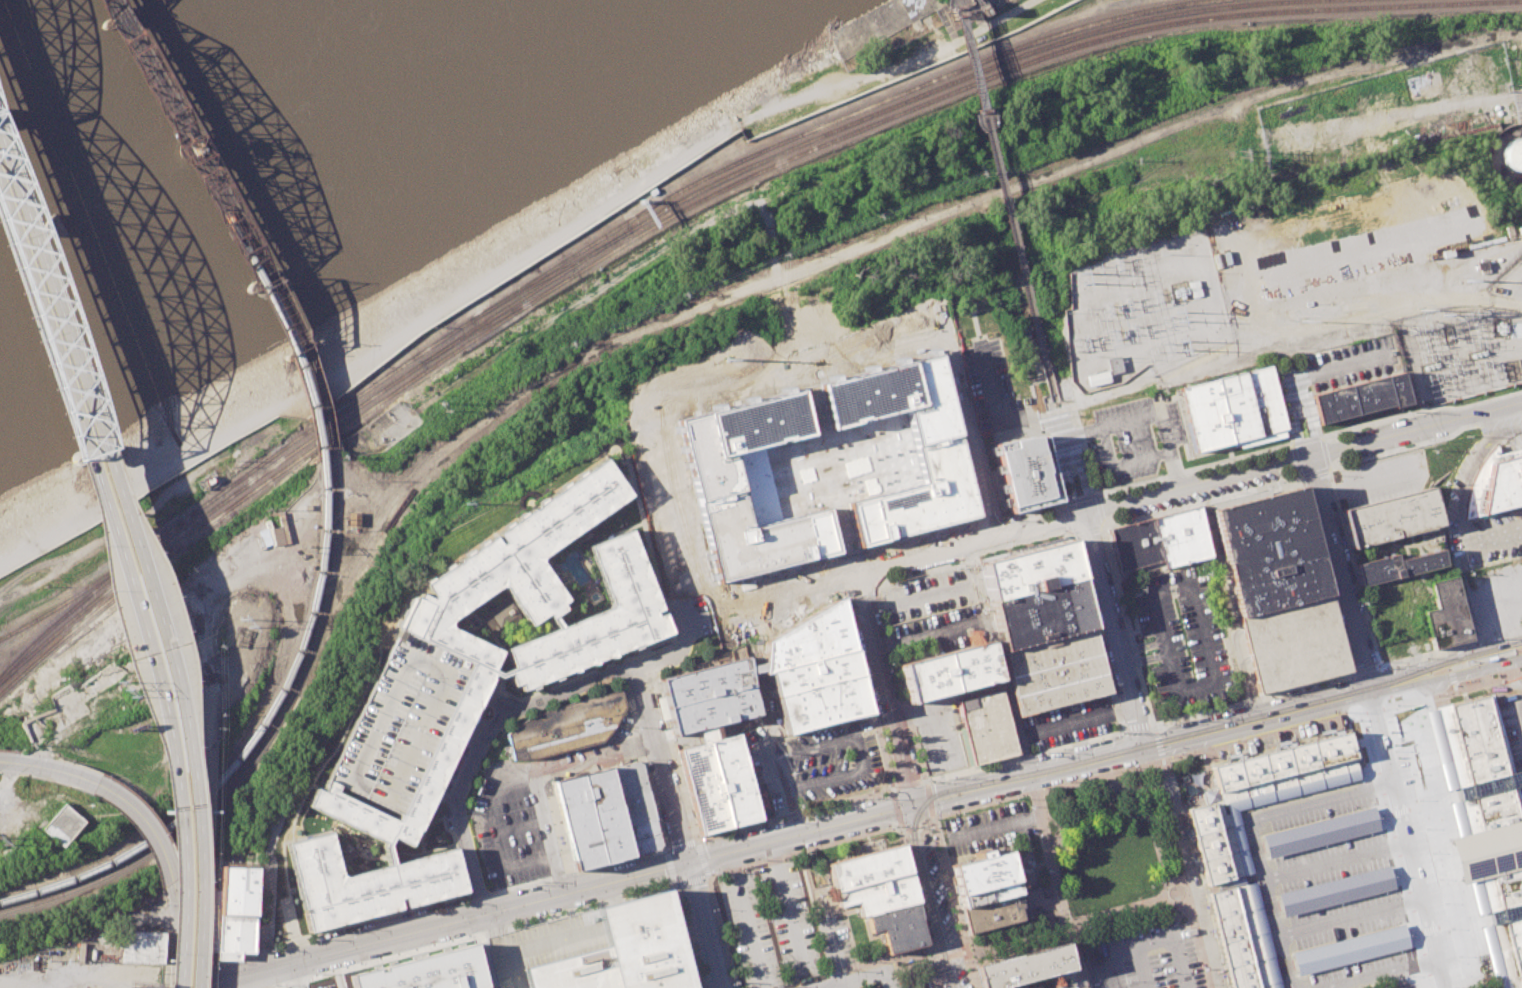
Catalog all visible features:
railway: (120, 7)
railway: (111, 9)
park: (1004, 15)
road: (995, 21)
building: (850, 37)
river: (102, 54)
road: (1519, 92)
railway: (196, 147)
railway: (189, 151)
building: (1514, 154)
railway: (699, 200)
road: (1004, 204)
railway: (665, 226)
railway: (600, 238)
railway: (603, 246)
railway: (552, 273)
power tower: (1080, 282)
power tower: (1420, 282)
power tower: (1421, 300)
road: (48, 301)
power substation: (1143, 311)
power tower: (1443, 311)
power tower: (1174, 313)
power tower: (1301, 313)
railway: (501, 316)
power tower: (1446, 324)
power tower: (1426, 328)
road: (40, 331)
power tower: (1180, 337)
power substation: (1459, 355)
power tower: (725, 358)
parking lot: (1348, 363)
railway: (309, 364)
building: (1114, 364)
railway: (301, 368)
road: (1334, 369)
road: (782, 377)
road: (1292, 386)
parking lot: (990, 388)
building: (1397, 389)
road: (1104, 392)
building: (1369, 394)
building: (1263, 400)
building: (1332, 404)
building: (1236, 406)
road: (1418, 410)
road: (1151, 413)
road: (998, 414)
building: (1203, 414)
road: (1051, 419)
road: (1308, 424)
road: (1295, 428)
road: (1417, 428)
road: (1507, 430)
parking lot: (1136, 437)
road: (1320, 438)
road: (1303, 439)
road: (1425, 442)
road: (1323, 453)
building: (937, 455)
road: (1070, 459)
road: (1121, 464)
road: (1053, 467)
road: (1191, 467)
road: (1313, 472)
building: (1028, 473)
parking lot: (1381, 478)
building: (713, 480)
road: (1198, 483)
building: (1503, 484)
parking lot: (1457, 496)
road: (1078, 498)
road: (1460, 499)
power tower: (465, 501)
road: (1098, 508)
road: (1030, 512)
building: (1389, 517)
building: (353, 519)
road: (1065, 519)
road: (992, 521)
road: (1102, 523)
building: (275, 530)
road: (1104, 531)
building: (1159, 540)
road: (648, 545)
road: (1392, 548)
building: (1269, 551)
road: (847, 558)
railway: (332, 559)
road: (1351, 566)
building: (1396, 566)
road: (1341, 572)
road: (1324, 574)
road: (853, 578)
railway: (92, 584)
road: (877, 587)
road: (858, 591)
building: (1035, 594)
road: (910, 596)
road: (798, 607)
building: (1442, 607)
road: (690, 613)
parking lot: (934, 615)
building: (595, 619)
power tower: (243, 621)
road: (745, 624)
road: (1113, 630)
road: (1094, 631)
building: (809, 639)
parking lot: (1181, 639)
railway: (33, 640)
road: (919, 640)
building: (1293, 643)
railway: (33, 645)
road: (1141, 646)
road: (1206, 646)
road: (1449, 647)
railway: (1496, 648)
railway: (4, 652)
road: (649, 652)
road: (695, 652)
railway: (1465, 659)
road: (1445, 663)
road: (646, 666)
road: (1364, 670)
road: (620, 671)
building: (948, 671)
building: (1055, 671)
building: (814, 673)
road: (1446, 675)
road: (554, 685)
road: (884, 691)
building: (710, 695)
road: (491, 696)
road: (1520, 697)
road: (1249, 698)
building: (822, 702)
road: (182, 710)
road: (207, 711)
road: (163, 713)
road: (934, 716)
road: (1256, 719)
building: (397, 721)
parking garage: (397, 721)
road: (770, 721)
parking lot: (1510, 721)
parking lot: (1067, 722)
road: (1136, 725)
building: (452, 726)
building: (566, 726)
road: (1052, 726)
building: (986, 727)
parking lot: (936, 732)
road: (482, 744)
road: (1156, 744)
railway: (250, 745)
road: (882, 750)
road: (858, 754)
railway: (1102, 754)
road: (1022, 755)
road: (674, 757)
road: (9, 761)
parking lot: (835, 761)
road: (644, 765)
road: (1141, 765)
road: (660, 768)
road: (58, 770)
parking lot: (761, 772)
road: (538, 777)
road: (1026, 778)
building: (732, 780)
road: (903, 783)
building: (703, 788)
road: (1175, 792)
road: (204, 798)
road: (928, 798)
road: (895, 806)
building: (635, 808)
parking lot: (522, 811)
road: (791, 813)
road: (930, 817)
building: (591, 818)
road: (914, 820)
road: (144, 821)
building: (63, 824)
building: (1486, 824)
railway: (186, 826)
road: (520, 826)
parking lot: (988, 827)
road: (995, 828)
building: (1320, 832)
road: (493, 833)
road: (798, 834)
road: (1252, 834)
power tower: (1, 838)
road: (1408, 838)
road: (696, 844)
road: (1336, 860)
road: (746, 864)
road: (670, 867)
building: (866, 867)
building: (981, 870)
road: (1189, 872)
road: (703, 876)
road: (686, 879)
road: (1055, 882)
road: (196, 889)
building: (1334, 890)
road: (1201, 892)
building: (986, 893)
building: (877, 894)
road: (929, 897)
building: (1229, 898)
road: (181, 900)
road: (919, 900)
road: (429, 904)
building: (236, 909)
road: (834, 909)
building: (993, 912)
road: (788, 914)
road: (1349, 916)
road: (746, 920)
road: (1069, 924)
road: (438, 925)
road: (702, 925)
building: (897, 926)
parking lot: (782, 931)
road: (682, 934)
road: (1158, 943)
building: (139, 945)
building: (543, 945)
parking garage: (543, 945)
road: (825, 949)
building: (1350, 949)
building: (624, 951)
road: (1116, 954)
road: (190, 955)
road: (943, 956)
parking lot: (1147, 956)
road: (915, 961)
road: (889, 963)
building: (1022, 967)
building: (423, 969)
road: (845, 970)
road: (1378, 973)
road: (862, 979)
railway: (943, 979)
road: (1110, 981)
road: (1396, 981)
road: (938, 982)
parking lot: (888, 983)
road: (847, 985)
road: (1473, 985)
road: (1483, 985)
building: (1418, 987)

